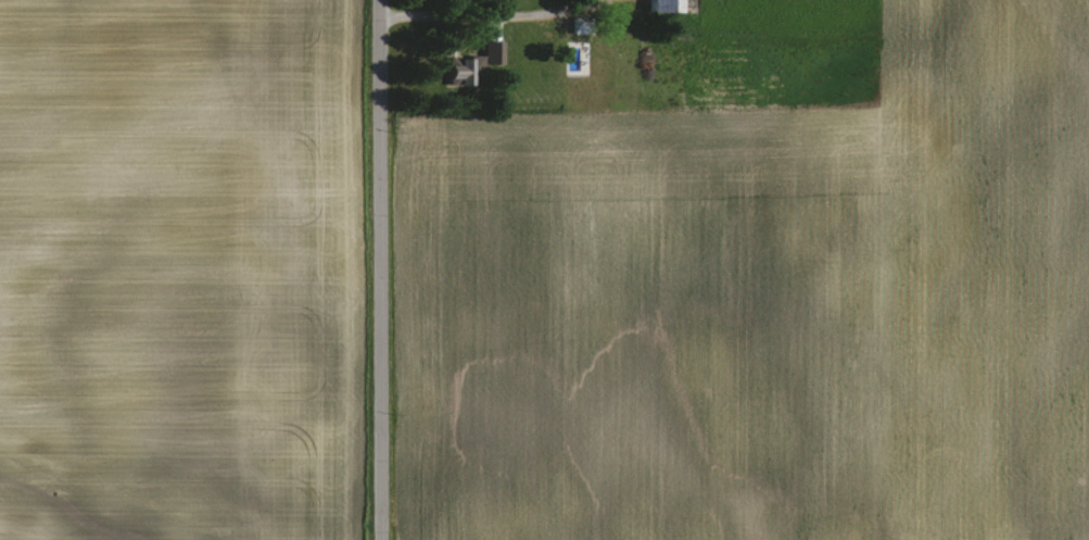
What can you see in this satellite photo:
building: (668, 4)
road: (491, 16)
building: (489, 50)
road: (373, 269)

